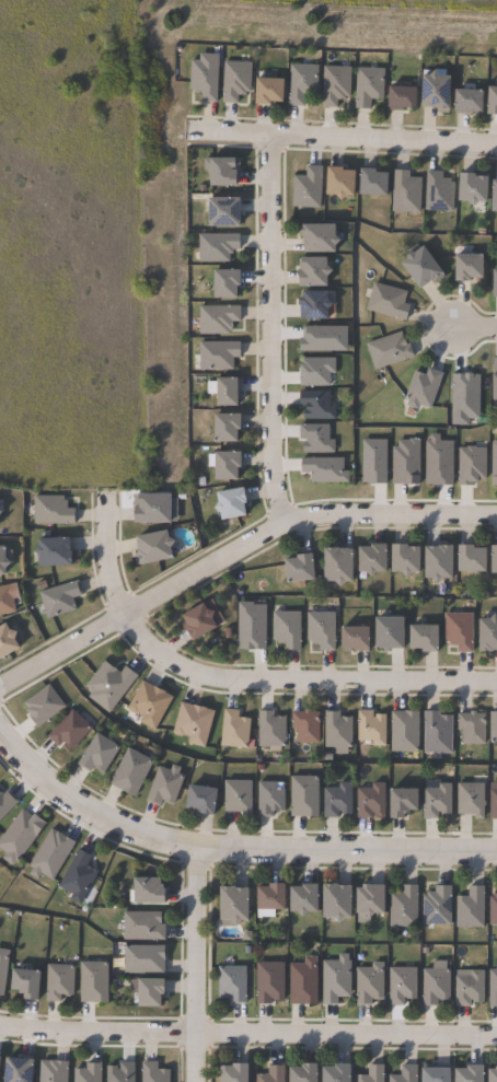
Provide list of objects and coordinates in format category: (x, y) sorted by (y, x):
building: (205, 79)
building: (236, 80)
building: (303, 83)
building: (336, 85)
building: (370, 85)
building: (271, 90)
building: (440, 90)
building: (405, 96)
building: (494, 100)
building: (473, 101)
road: (340, 138)
building: (215, 171)
building: (344, 182)
building: (377, 182)
building: (470, 187)
building: (303, 188)
building: (406, 191)
building: (440, 193)
building: (490, 196)
building: (217, 212)
building: (324, 237)
building: (211, 247)
building: (426, 267)
building: (473, 267)
building: (317, 271)
building: (219, 283)
building: (493, 283)
building: (390, 301)
building: (319, 305)
building: (212, 318)
road: (472, 329)
road: (269, 330)
building: (384, 351)
building: (219, 356)
building: (495, 367)
building: (425, 388)
building: (220, 393)
building: (317, 406)
building: (230, 428)
building: (317, 438)
building: (369, 461)
building: (434, 461)
building: (402, 463)
building: (492, 464)
building: (467, 465)
building: (230, 466)
building: (234, 503)
building: (157, 509)
building: (53, 510)
building: (1, 511)
road: (234, 548)
building: (155, 549)
building: (57, 552)
building: (377, 560)
building: (409, 560)
building: (476, 560)
building: (4, 562)
building: (443, 563)
building: (496, 565)
building: (343, 566)
building: (303, 569)
building: (60, 600)
building: (8, 601)
building: (203, 621)
building: (288, 629)
building: (323, 630)
building: (461, 631)
building: (394, 635)
building: (490, 636)
building: (429, 639)
building: (360, 640)
building: (9, 643)
road: (232, 682)
building: (111, 685)
building: (151, 705)
building: (37, 707)
building: (195, 724)
building: (307, 726)
building: (373, 729)
building: (474, 729)
building: (271, 730)
building: (496, 730)
building: (70, 731)
building: (235, 731)
building: (338, 731)
building: (406, 732)
building: (438, 734)
building: (101, 755)
building: (132, 773)
building: (167, 787)
building: (307, 798)
building: (241, 799)
building: (273, 800)
building: (339, 801)
building: (473, 801)
building: (494, 801)
building: (7, 802)
building: (207, 802)
building: (372, 802)
building: (407, 803)
building: (439, 803)
road: (81, 824)
building: (14, 834)
road: (231, 849)
building: (45, 854)
road: (338, 868)
building: (79, 874)
building: (152, 889)
building: (275, 895)
building: (308, 897)
building: (340, 899)
building: (373, 900)
building: (238, 903)
building: (405, 906)
building: (439, 906)
building: (470, 908)
building: (490, 909)
building: (143, 926)
building: (146, 958)
road: (195, 964)
building: (3, 968)
building: (338, 979)
building: (60, 980)
building: (273, 980)
building: (30, 981)
building: (95, 981)
building: (305, 981)
building: (234, 982)
building: (371, 982)
building: (404, 984)
building: (438, 985)
building: (469, 986)
building: (153, 990)
building: (490, 990)
road: (167, 1020)
road: (276, 1021)
road: (247, 1034)
road: (206, 1066)
building: (12, 1069)
building: (54, 1071)
building: (123, 1072)
building: (239, 1072)
building: (308, 1072)
building: (340, 1072)
building: (90, 1073)
building: (155, 1073)
building: (274, 1073)
building: (373, 1073)
building: (467, 1073)
building: (406, 1074)
building: (440, 1074)
building: (488, 1074)

